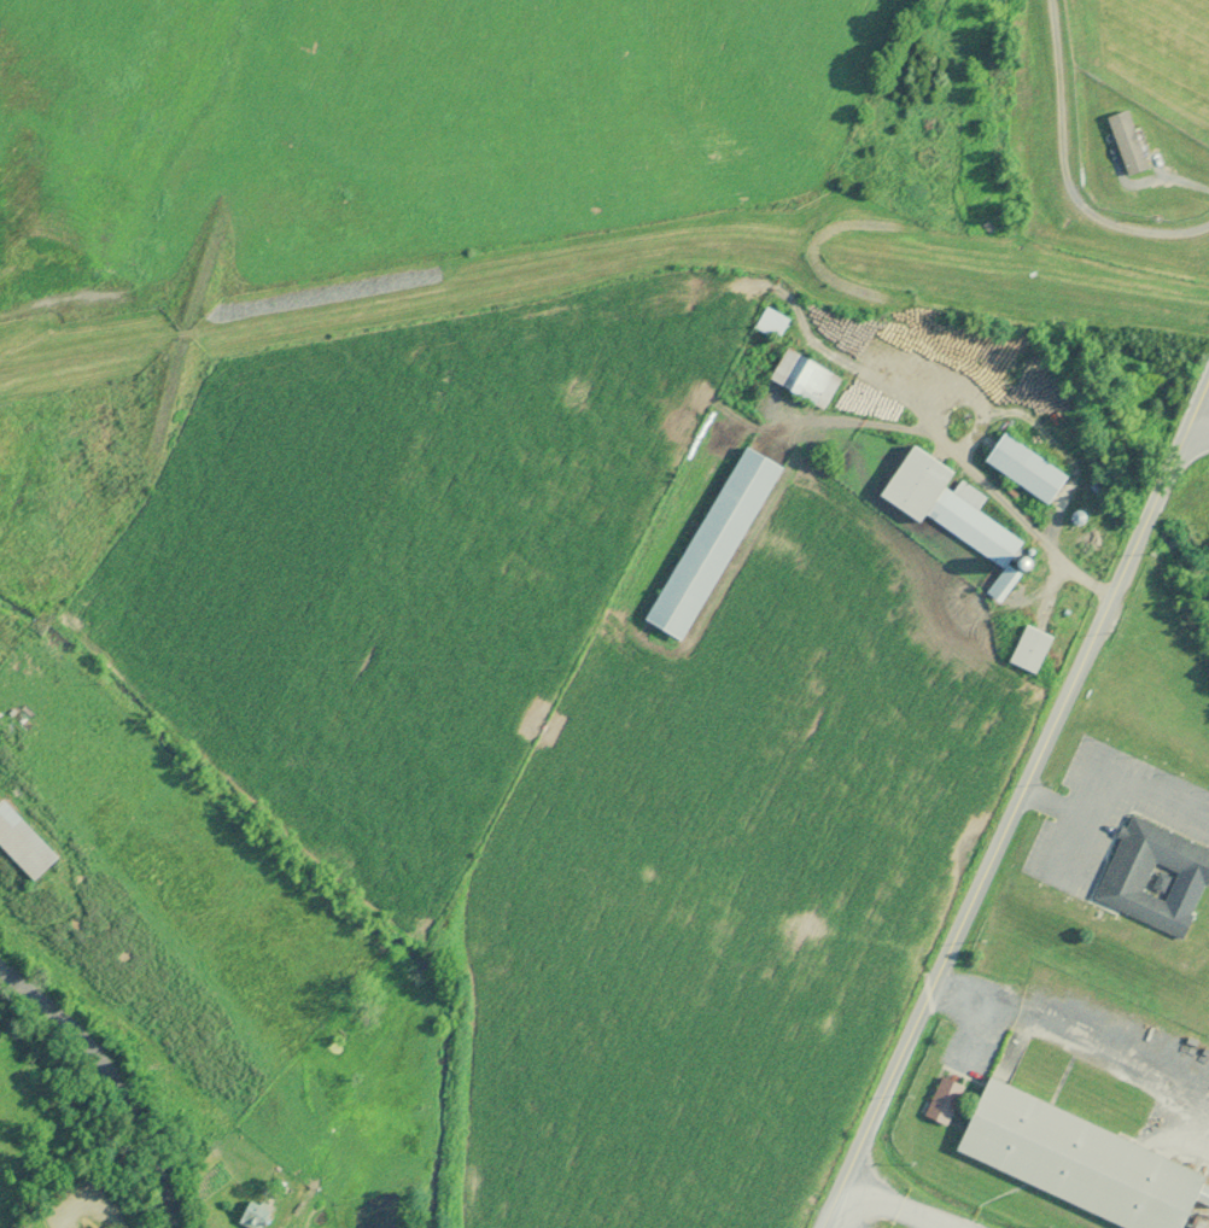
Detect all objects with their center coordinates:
airport: (1141, 103)
building: (1127, 142)
building: (771, 323)
building: (804, 379)
road: (1199, 416)
building: (1023, 468)
building: (946, 505)
building: (712, 543)
building: (1029, 649)
road: (1016, 800)
building: (22, 846)
building: (1126, 873)
road: (119, 1083)
building: (942, 1100)
building: (1077, 1162)
road: (887, 1207)
building: (257, 1209)

